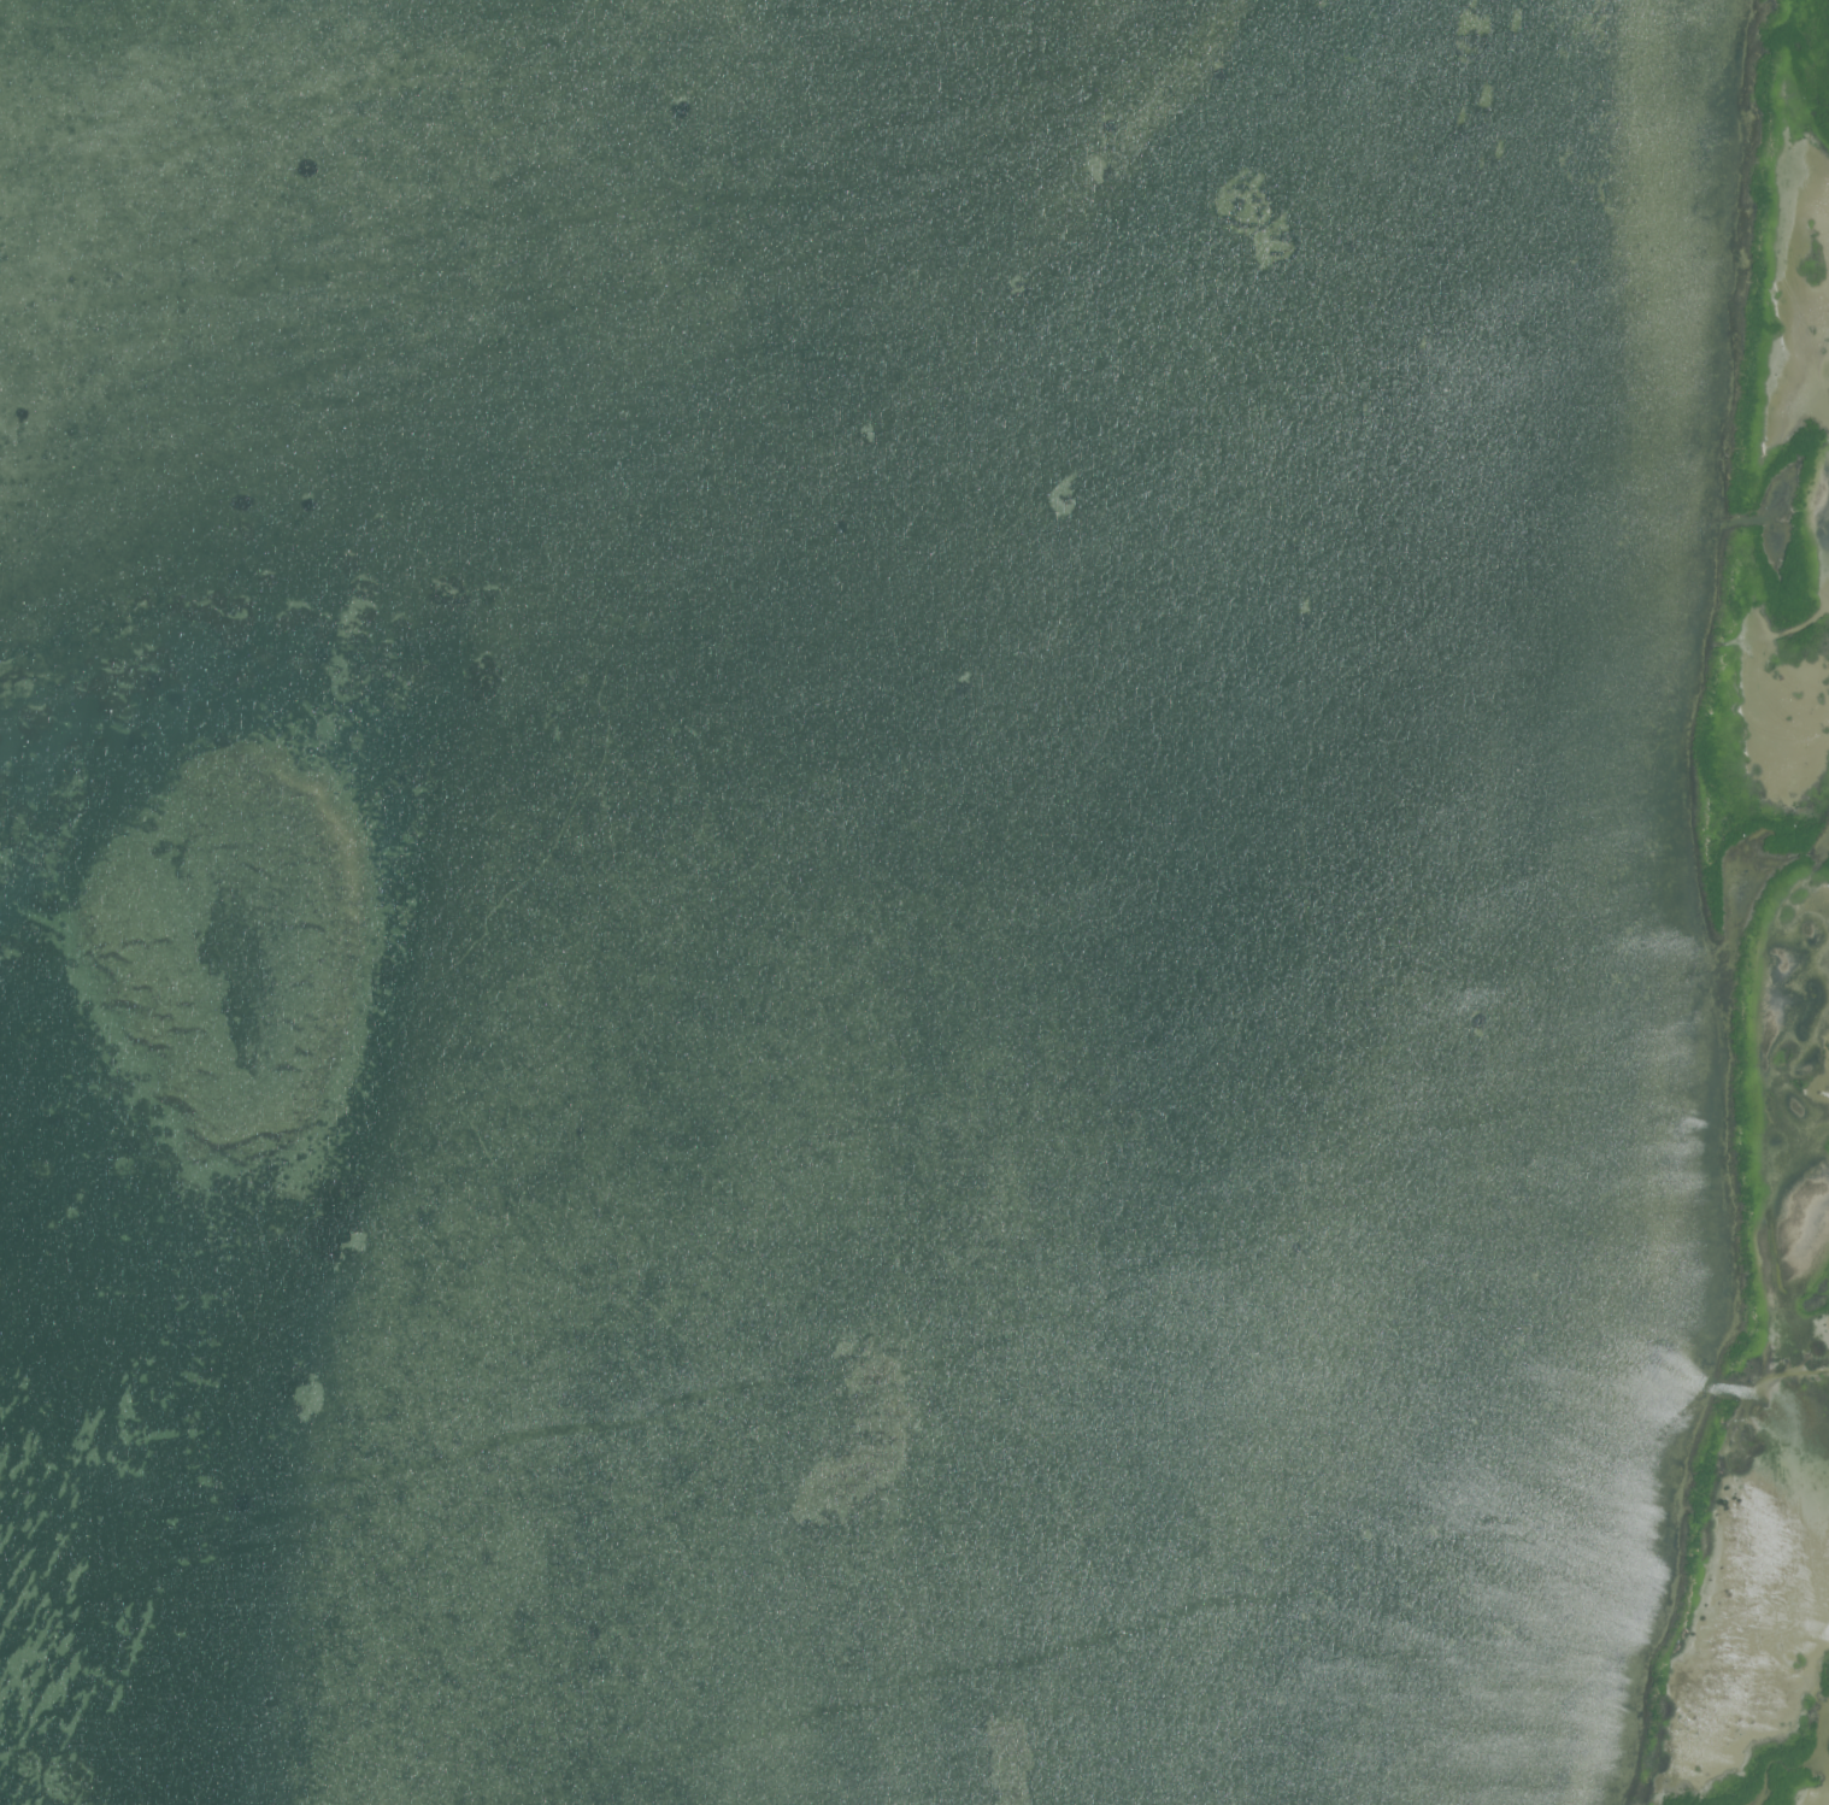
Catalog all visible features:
park: (1635, 1100)

